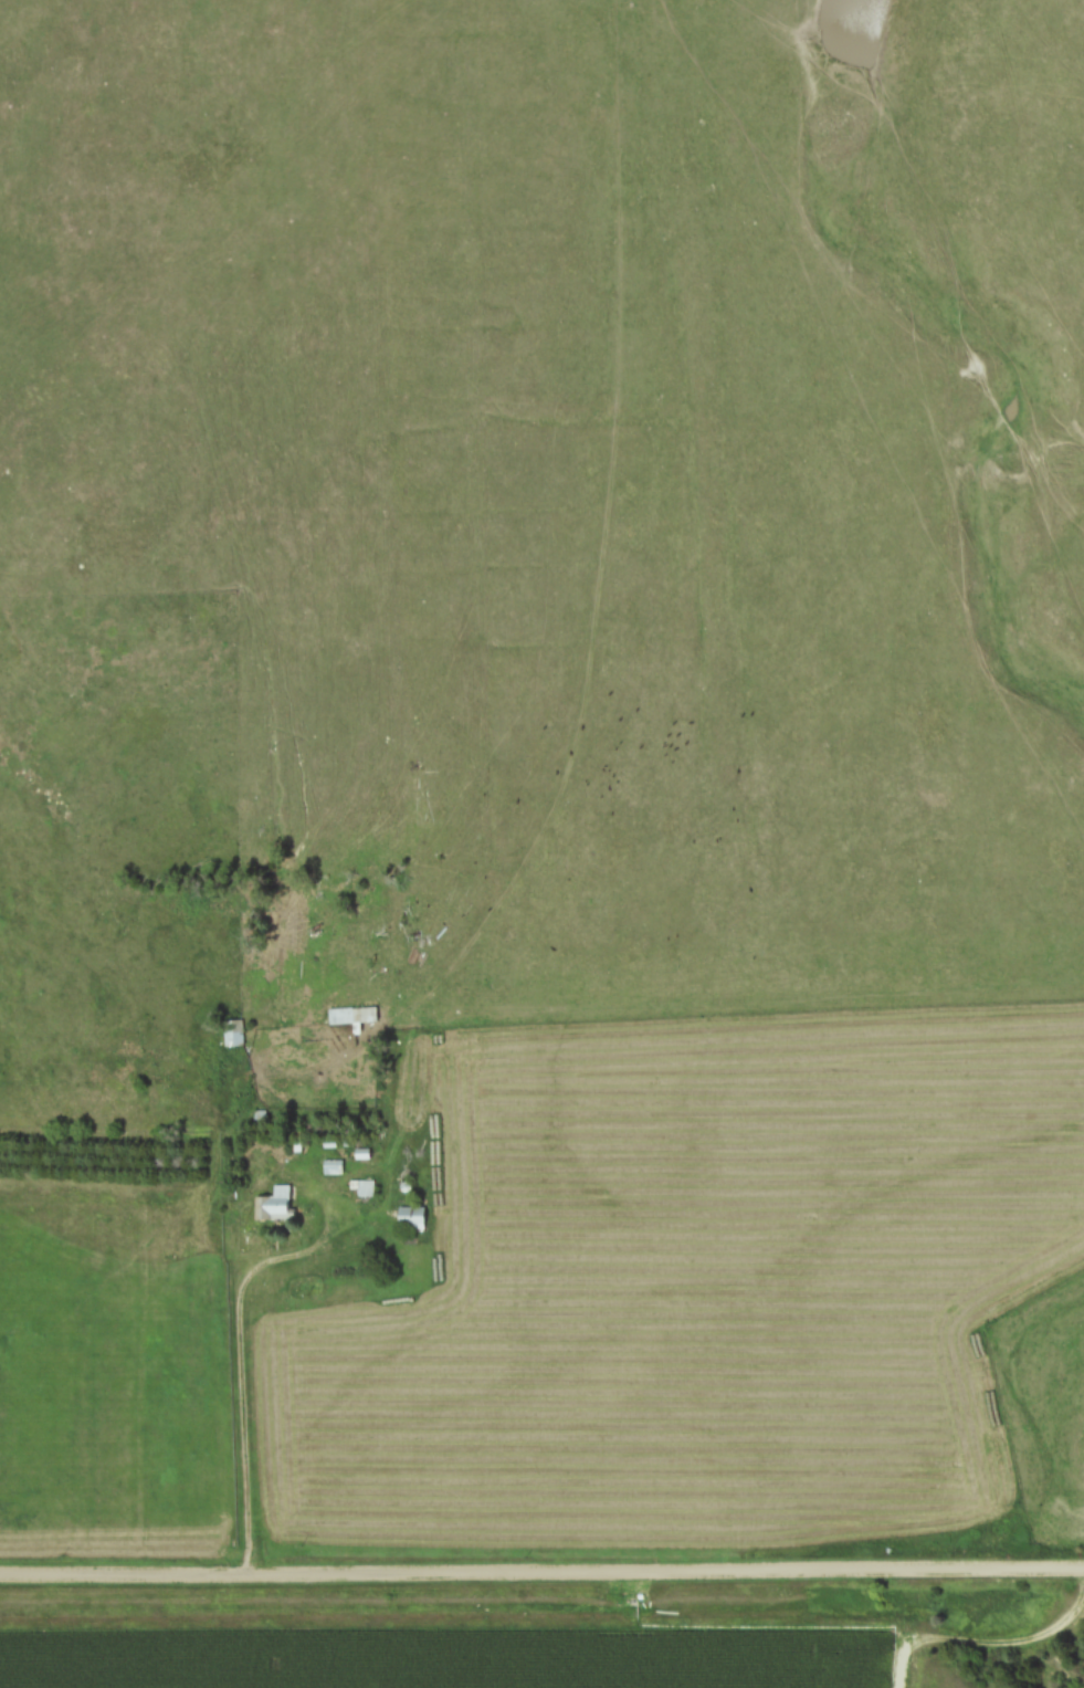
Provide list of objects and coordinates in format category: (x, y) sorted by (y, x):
building: (354, 1018)
building: (235, 1034)
building: (335, 1170)
building: (367, 1191)
building: (275, 1206)
building: (413, 1220)
road: (243, 1364)
road: (541, 1574)

